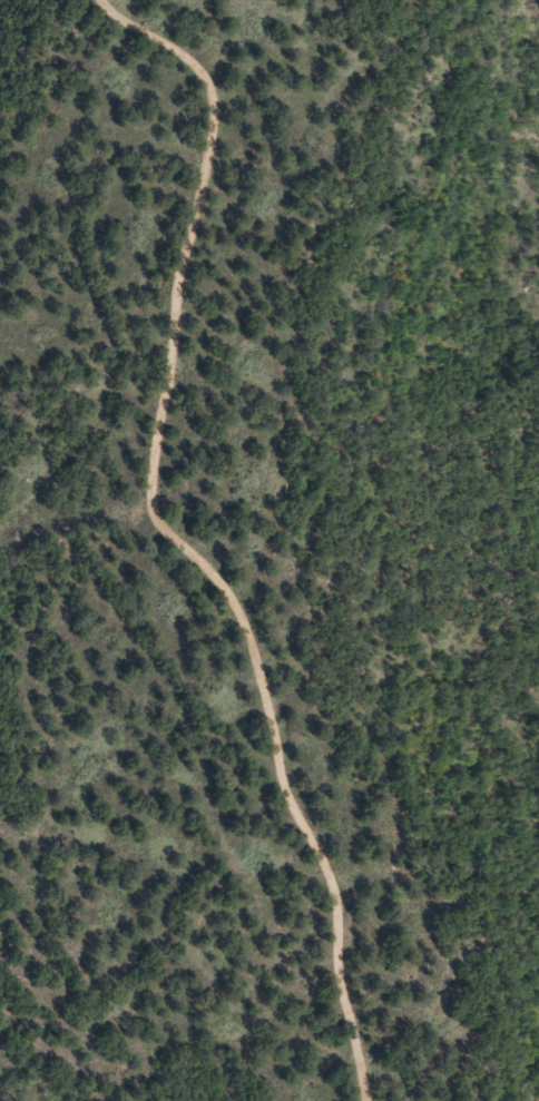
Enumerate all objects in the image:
road: (177, 537)

